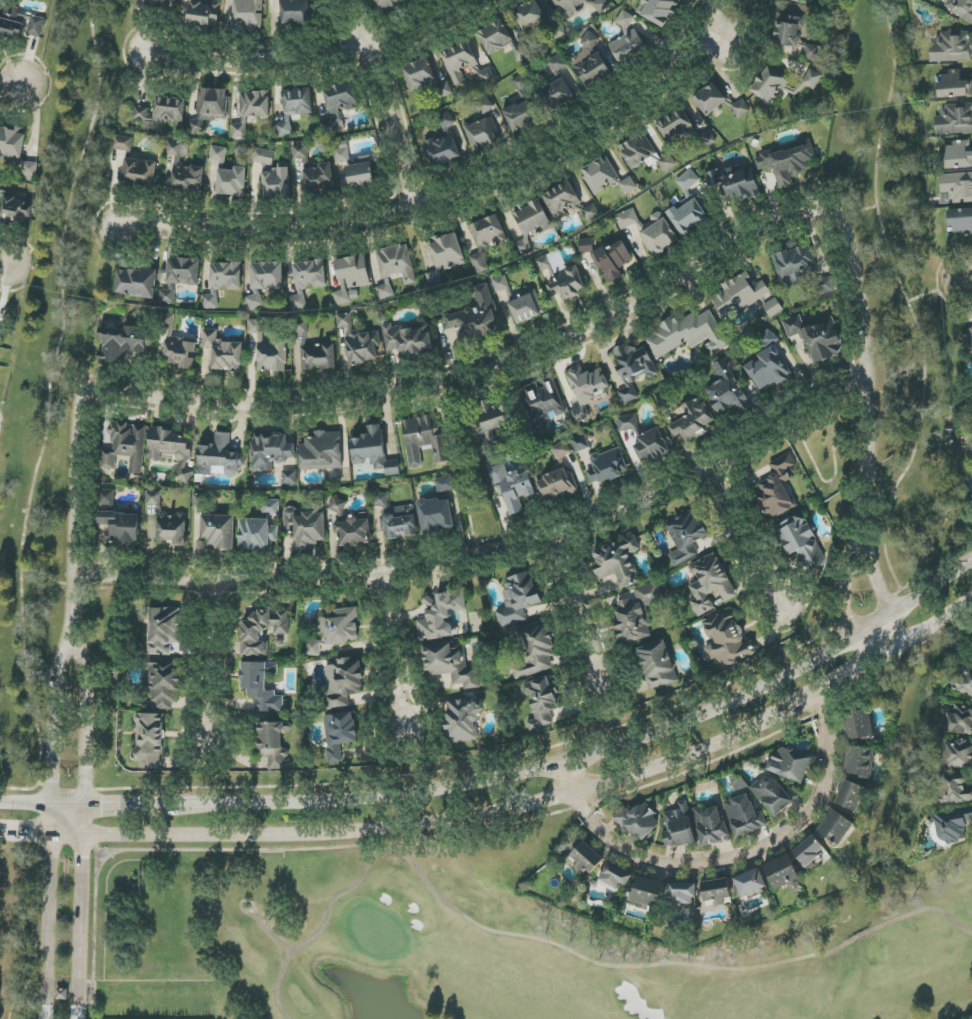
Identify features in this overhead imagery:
building: (796, 0)
building: (162, 3)
building: (387, 4)
building: (570, 6)
building: (962, 8)
building: (658, 10)
building: (296, 12)
building: (205, 13)
building: (249, 14)
building: (530, 16)
building: (20, 23)
road: (730, 30)
building: (556, 31)
building: (795, 36)
building: (495, 37)
building: (627, 40)
building: (951, 48)
building: (459, 61)
road: (317, 62)
building: (591, 63)
building: (557, 64)
building: (487, 76)
building: (425, 78)
building: (953, 85)
building: (770, 86)
road: (11, 90)
building: (558, 94)
building: (710, 99)
building: (339, 104)
road: (386, 104)
building: (254, 105)
building: (484, 105)
building: (210, 107)
building: (295, 107)
building: (740, 108)
building: (162, 112)
building: (520, 115)
building: (954, 120)
building: (675, 126)
building: (239, 131)
building: (484, 134)
building: (707, 138)
building: (122, 143)
building: (443, 150)
building: (637, 151)
building: (299, 152)
building: (341, 152)
building: (218, 155)
building: (957, 155)
building: (667, 163)
building: (787, 163)
building: (185, 169)
building: (140, 172)
building: (361, 173)
building: (600, 174)
building: (273, 175)
building: (319, 178)
building: (688, 181)
building: (736, 181)
building: (232, 182)
building: (628, 185)
building: (957, 187)
building: (562, 199)
road: (460, 201)
building: (17, 210)
building: (591, 212)
road: (859, 212)
building: (688, 216)
building: (627, 219)
building: (960, 221)
building: (531, 223)
building: (488, 231)
building: (659, 235)
building: (585, 246)
building: (447, 251)
building: (612, 261)
building: (397, 263)
building: (479, 263)
building: (794, 265)
building: (184, 271)
road: (4, 272)
building: (351, 276)
building: (307, 280)
building: (223, 281)
building: (264, 281)
road: (967, 281)
building: (136, 283)
building: (568, 283)
building: (384, 290)
road: (935, 292)
building: (739, 294)
building: (167, 296)
building: (520, 301)
building: (773, 307)
road: (909, 308)
building: (472, 319)
building: (793, 326)
building: (688, 334)
building: (408, 339)
building: (968, 340)
building: (124, 342)
building: (359, 342)
building: (822, 342)
building: (177, 345)
building: (269, 350)
building: (314, 350)
building: (223, 351)
building: (768, 364)
building: (633, 369)
road: (475, 372)
road: (869, 374)
road: (71, 376)
building: (586, 389)
building: (726, 391)
road: (895, 400)
building: (543, 402)
building: (664, 402)
road: (48, 423)
building: (493, 423)
building: (627, 423)
building: (424, 439)
building: (580, 443)
building: (125, 446)
building: (653, 446)
building: (172, 450)
building: (561, 450)
building: (969, 450)
building: (322, 451)
building: (374, 451)
building: (271, 452)
building: (220, 457)
building: (607, 466)
building: (289, 477)
road: (833, 479)
building: (445, 484)
building: (558, 485)
building: (513, 487)
building: (777, 488)
building: (106, 497)
building: (381, 500)
building: (317, 506)
building: (337, 506)
building: (270, 507)
road: (74, 510)
building: (436, 515)
building: (168, 522)
building: (399, 522)
building: (121, 528)
building: (306, 528)
building: (219, 531)
building: (355, 531)
building: (257, 534)
road: (747, 536)
building: (686, 537)
building: (801, 542)
road: (494, 557)
building: (617, 562)
road: (47, 578)
building: (710, 583)
building: (518, 598)
road: (884, 602)
road: (579, 608)
building: (637, 612)
road: (844, 614)
building: (440, 615)
building: (164, 630)
building: (262, 631)
building: (335, 631)
building: (727, 640)
building: (535, 648)
road: (394, 651)
road: (214, 653)
road: (900, 655)
building: (451, 664)
building: (658, 664)
building: (343, 682)
building: (962, 682)
building: (165, 683)
building: (261, 686)
building: (541, 702)
road: (56, 718)
road: (84, 719)
building: (463, 719)
building: (960, 721)
building: (858, 724)
building: (339, 734)
building: (149, 740)
building: (273, 743)
road: (707, 750)
building: (957, 754)
building: (860, 761)
building: (790, 764)
road: (511, 777)
road: (579, 781)
building: (955, 789)
road: (93, 790)
building: (773, 795)
building: (850, 796)
building: (744, 816)
building: (638, 821)
building: (711, 825)
building: (951, 826)
building: (679, 827)
building: (836, 827)
road: (26, 833)
road: (320, 833)
road: (748, 851)
building: (809, 851)
building: (586, 859)
building: (782, 872)
building: (615, 876)
building: (750, 882)
building: (716, 891)
building: (646, 892)
building: (682, 893)
road: (50, 912)
road: (79, 912)
park: (451, 947)
building: (62, 994)

